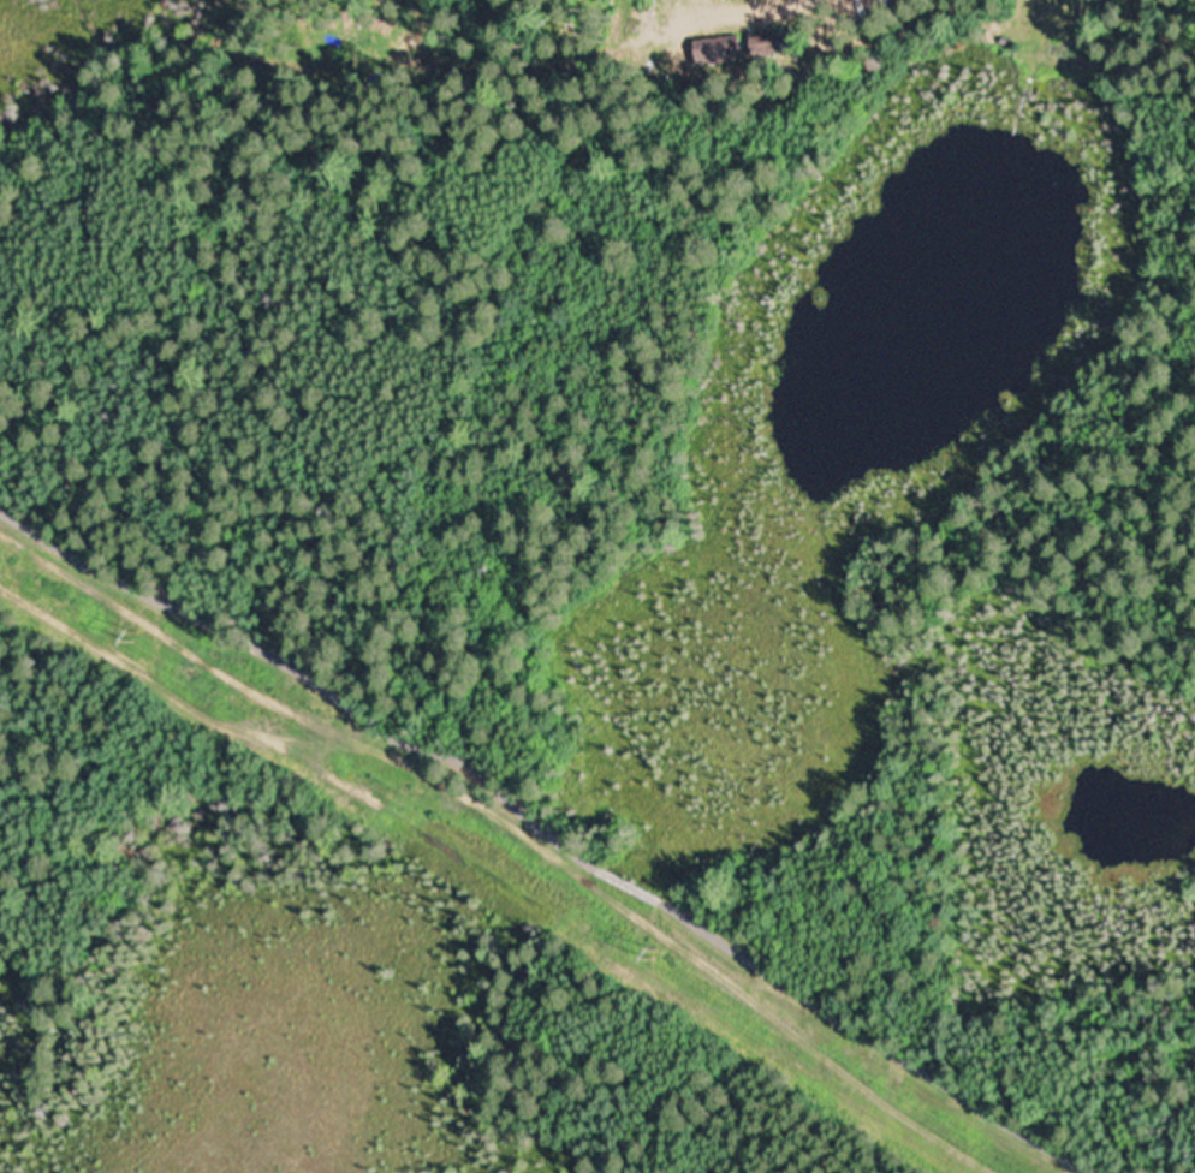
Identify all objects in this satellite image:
building: (790, 37)
building: (767, 40)
building: (724, 47)
power tower: (126, 626)
road: (541, 829)
power tower: (653, 945)

